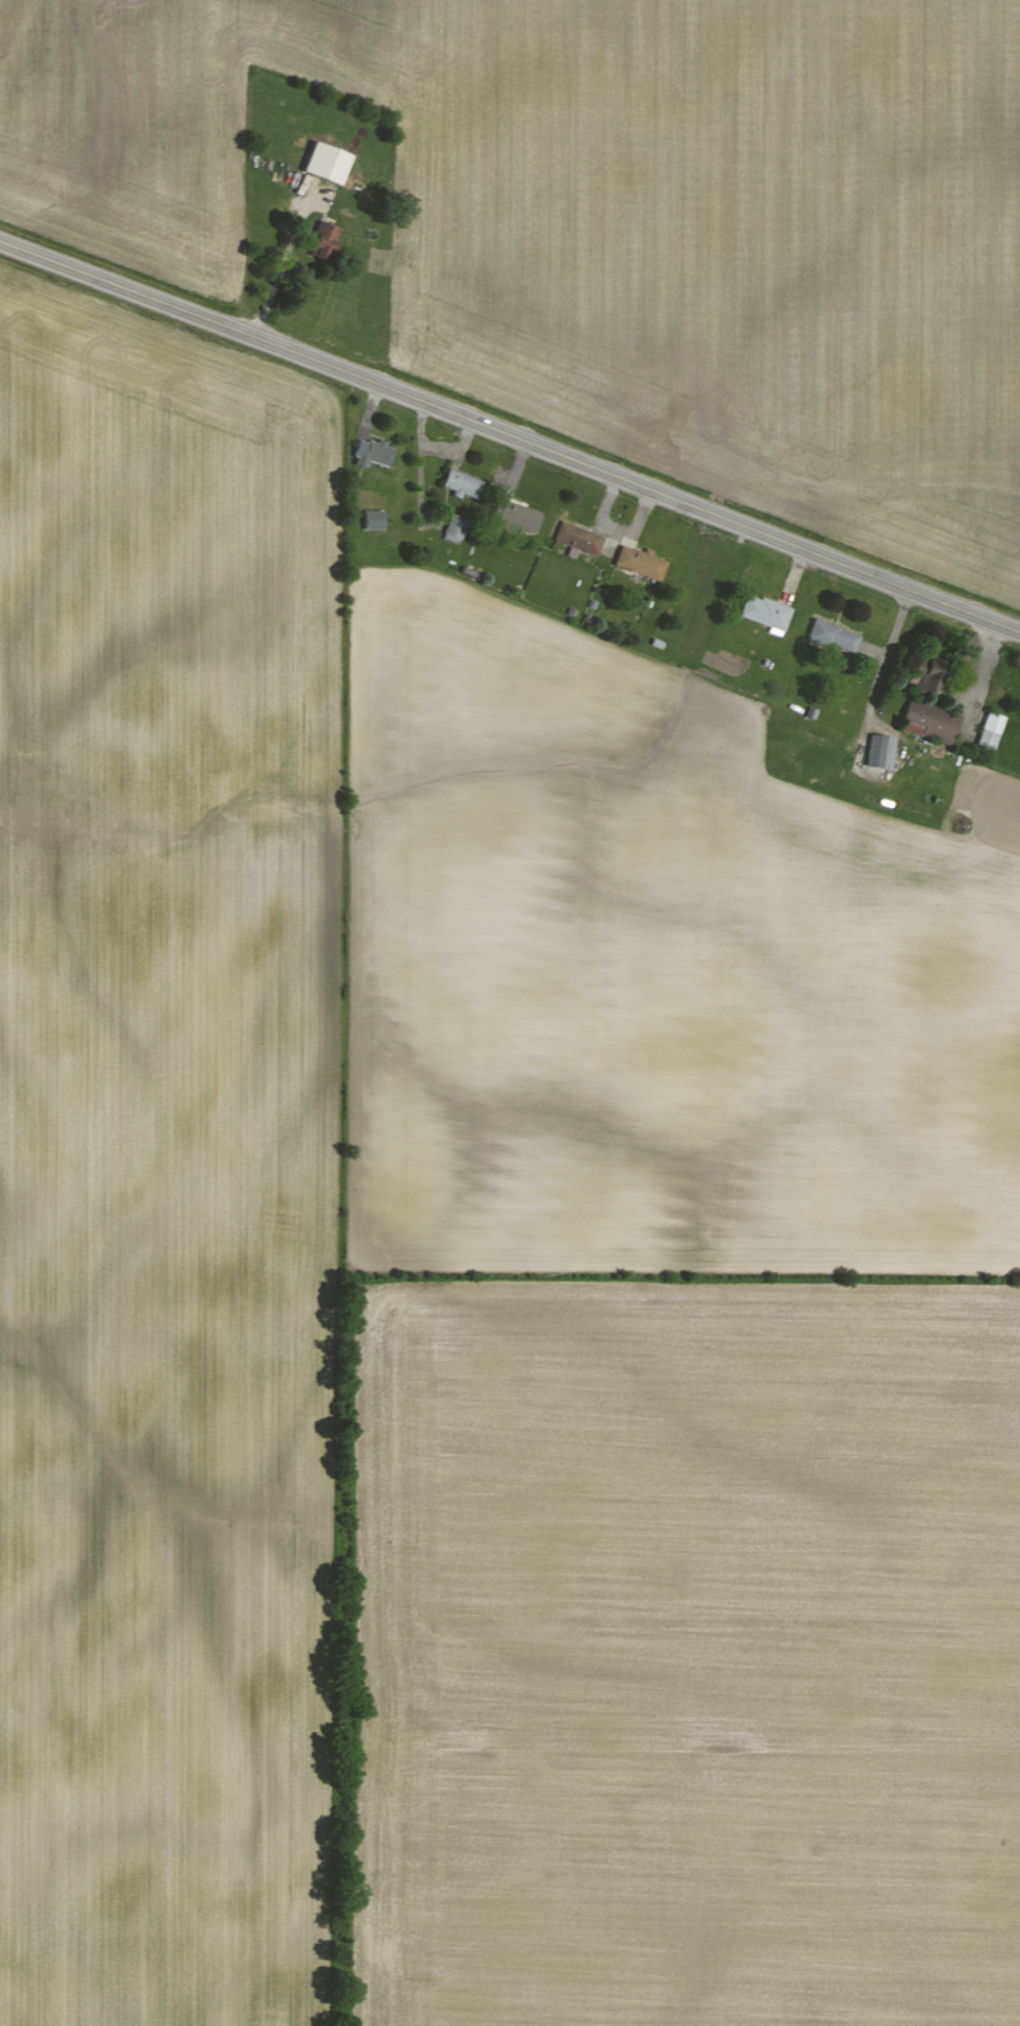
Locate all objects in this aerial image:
building: (326, 163)
building: (323, 240)
road: (279, 273)
road: (510, 433)
building: (372, 452)
building: (461, 483)
building: (517, 514)
building: (373, 519)
building: (455, 528)
building: (578, 537)
building: (641, 561)
building: (765, 612)
building: (832, 635)
road: (886, 659)
building: (929, 672)
road: (984, 676)
building: (932, 720)
building: (991, 730)
building: (881, 751)

